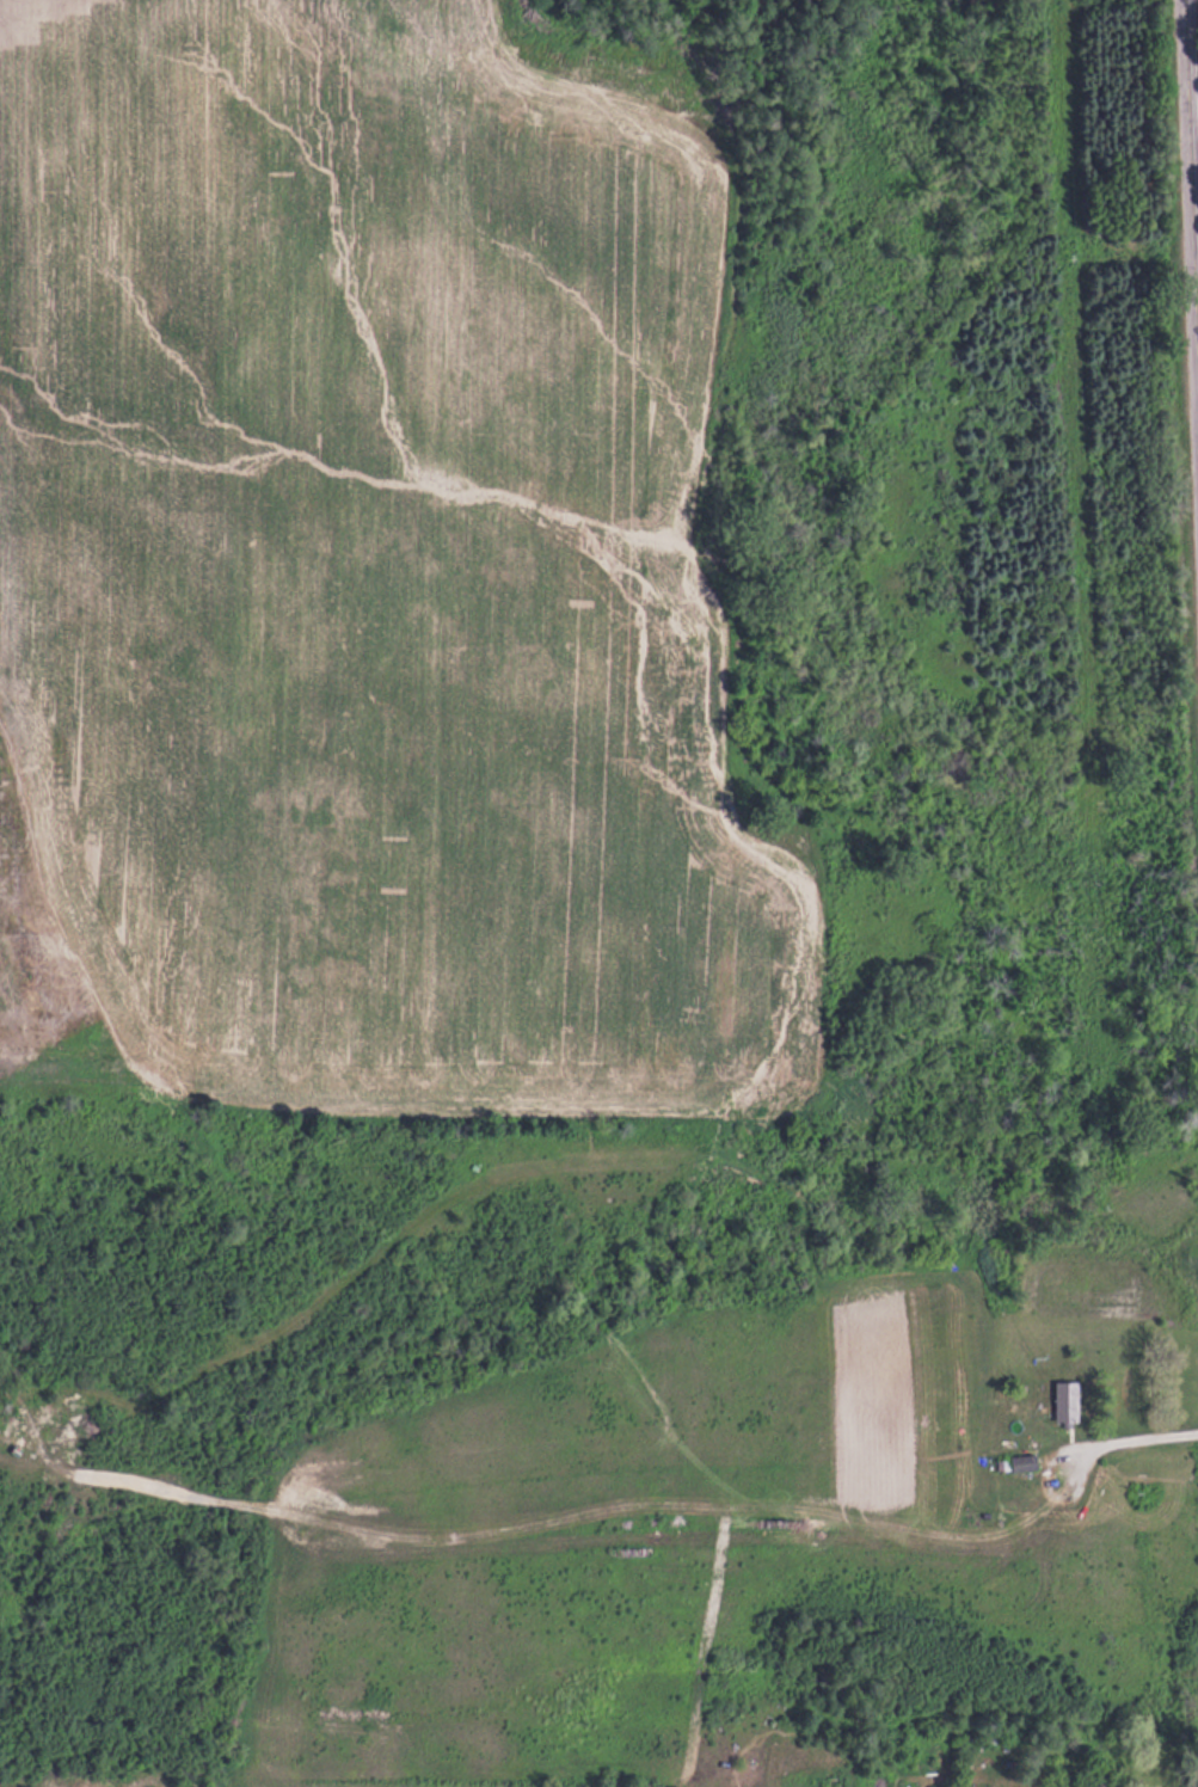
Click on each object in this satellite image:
road: (1190, 185)
building: (1064, 1402)
road: (1123, 1438)
building: (1021, 1461)

